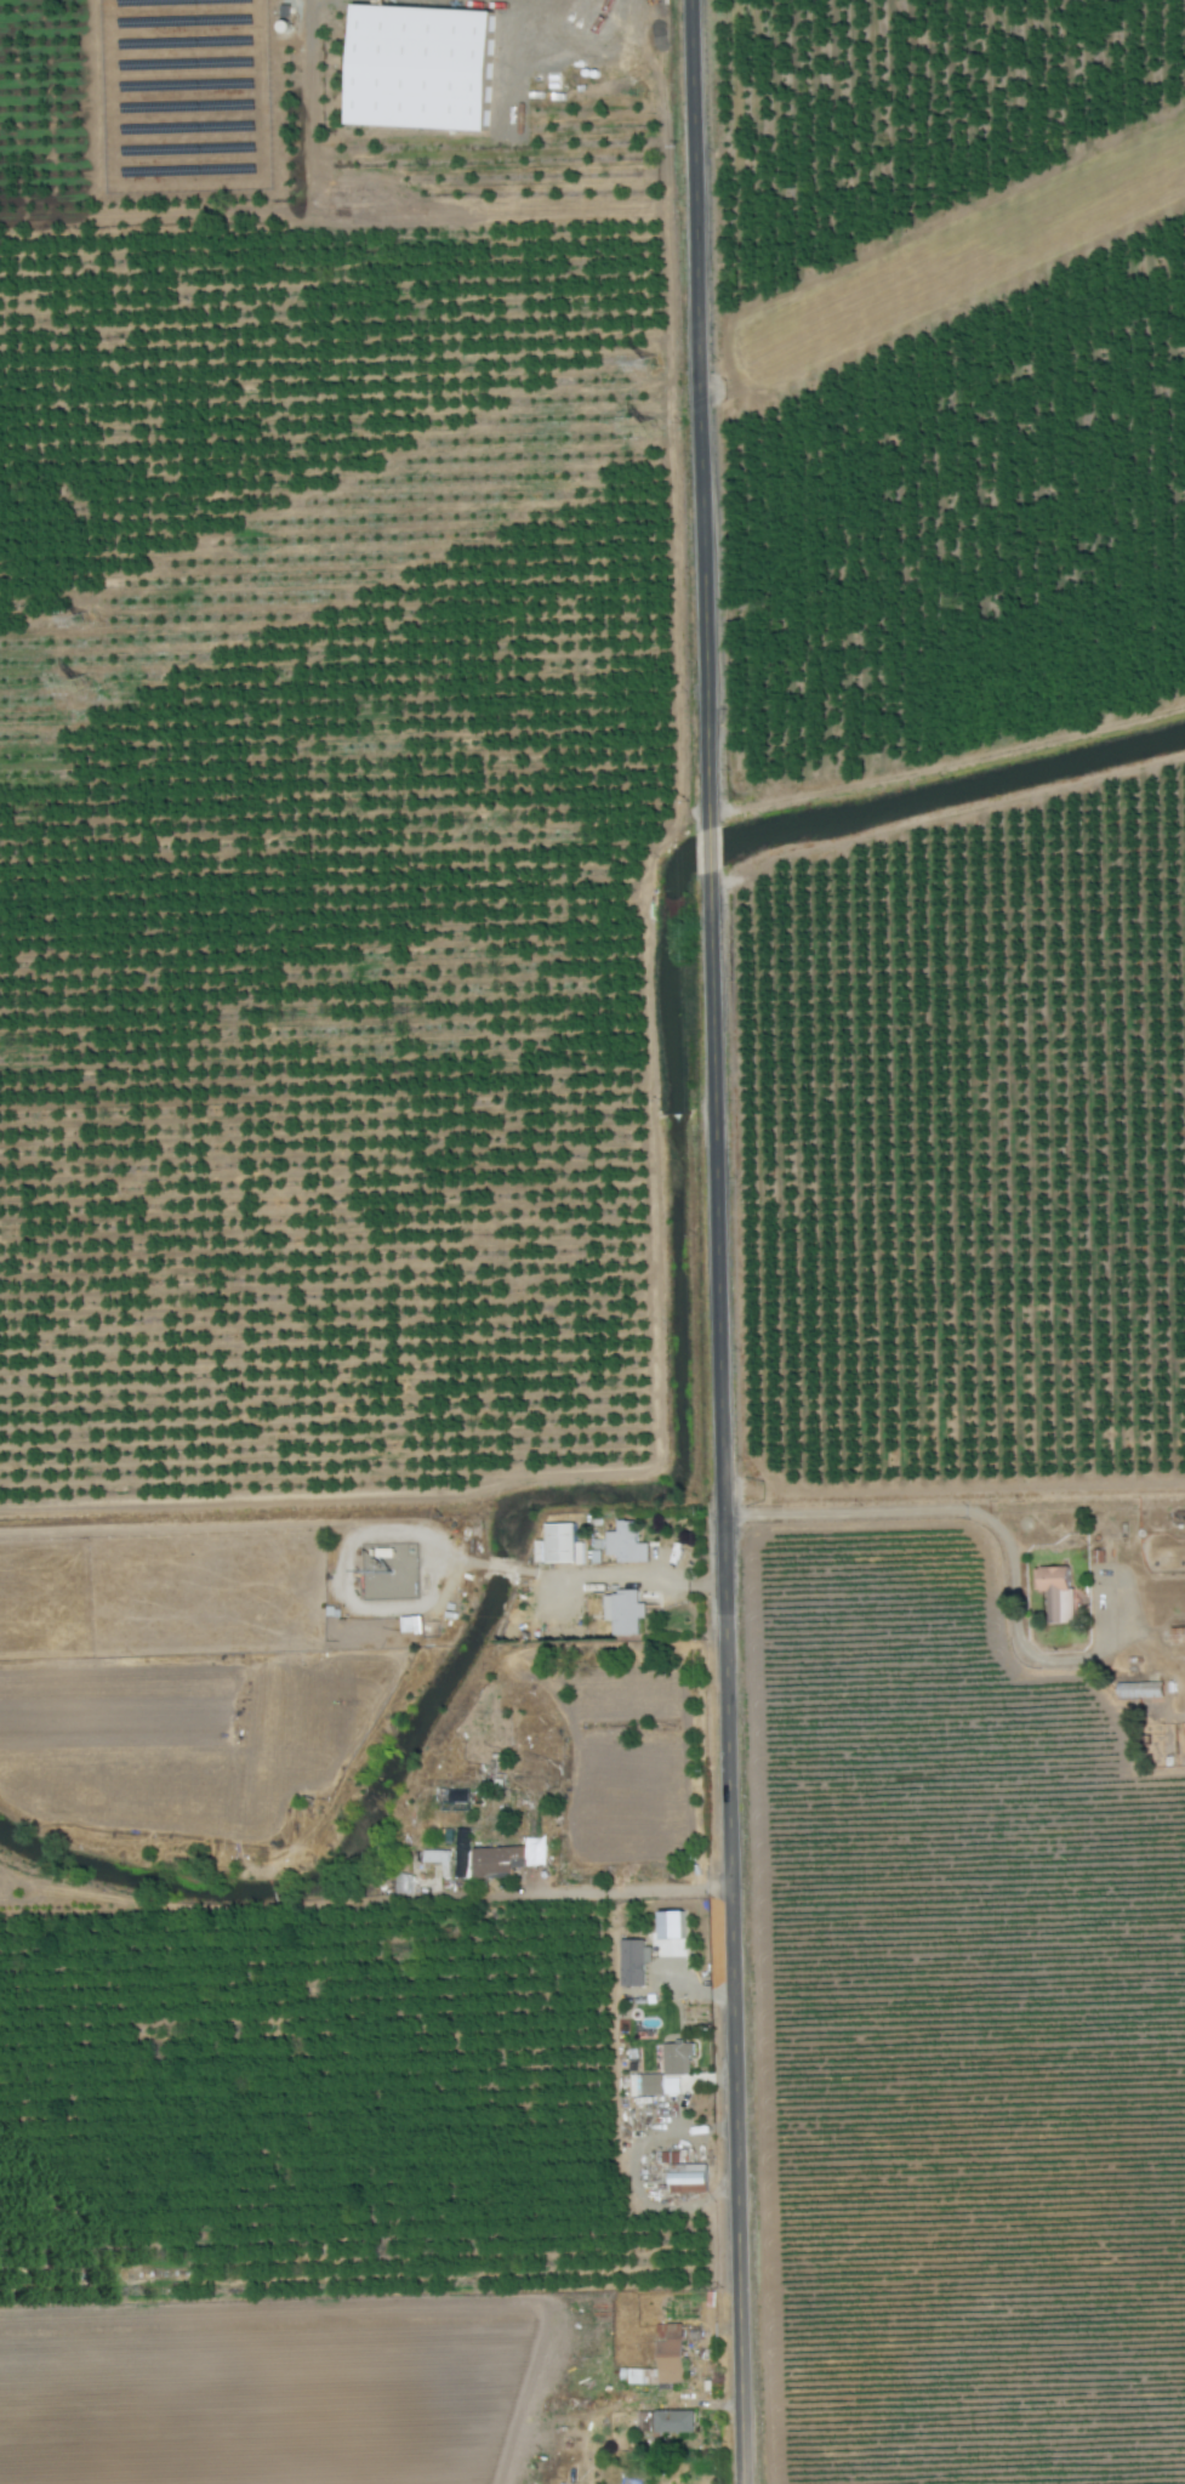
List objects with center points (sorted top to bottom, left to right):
road: (563, 16)
building: (425, 67)
power tower: (651, 365)
road: (700, 408)
power tower: (649, 431)
power tower: (81, 623)
power tower: (80, 688)
road: (708, 860)
road: (958, 1511)
building: (627, 1541)
building: (564, 1542)
road: (636, 1579)
building: (1058, 1590)
building: (625, 1610)
building: (412, 1622)
building: (1141, 1688)
road: (729, 1694)
building: (492, 1861)
building: (427, 1871)
road: (644, 1892)
building: (629, 1962)
building: (678, 2057)
building: (651, 2084)
building: (689, 2177)
building: (670, 2352)
building: (674, 2421)

